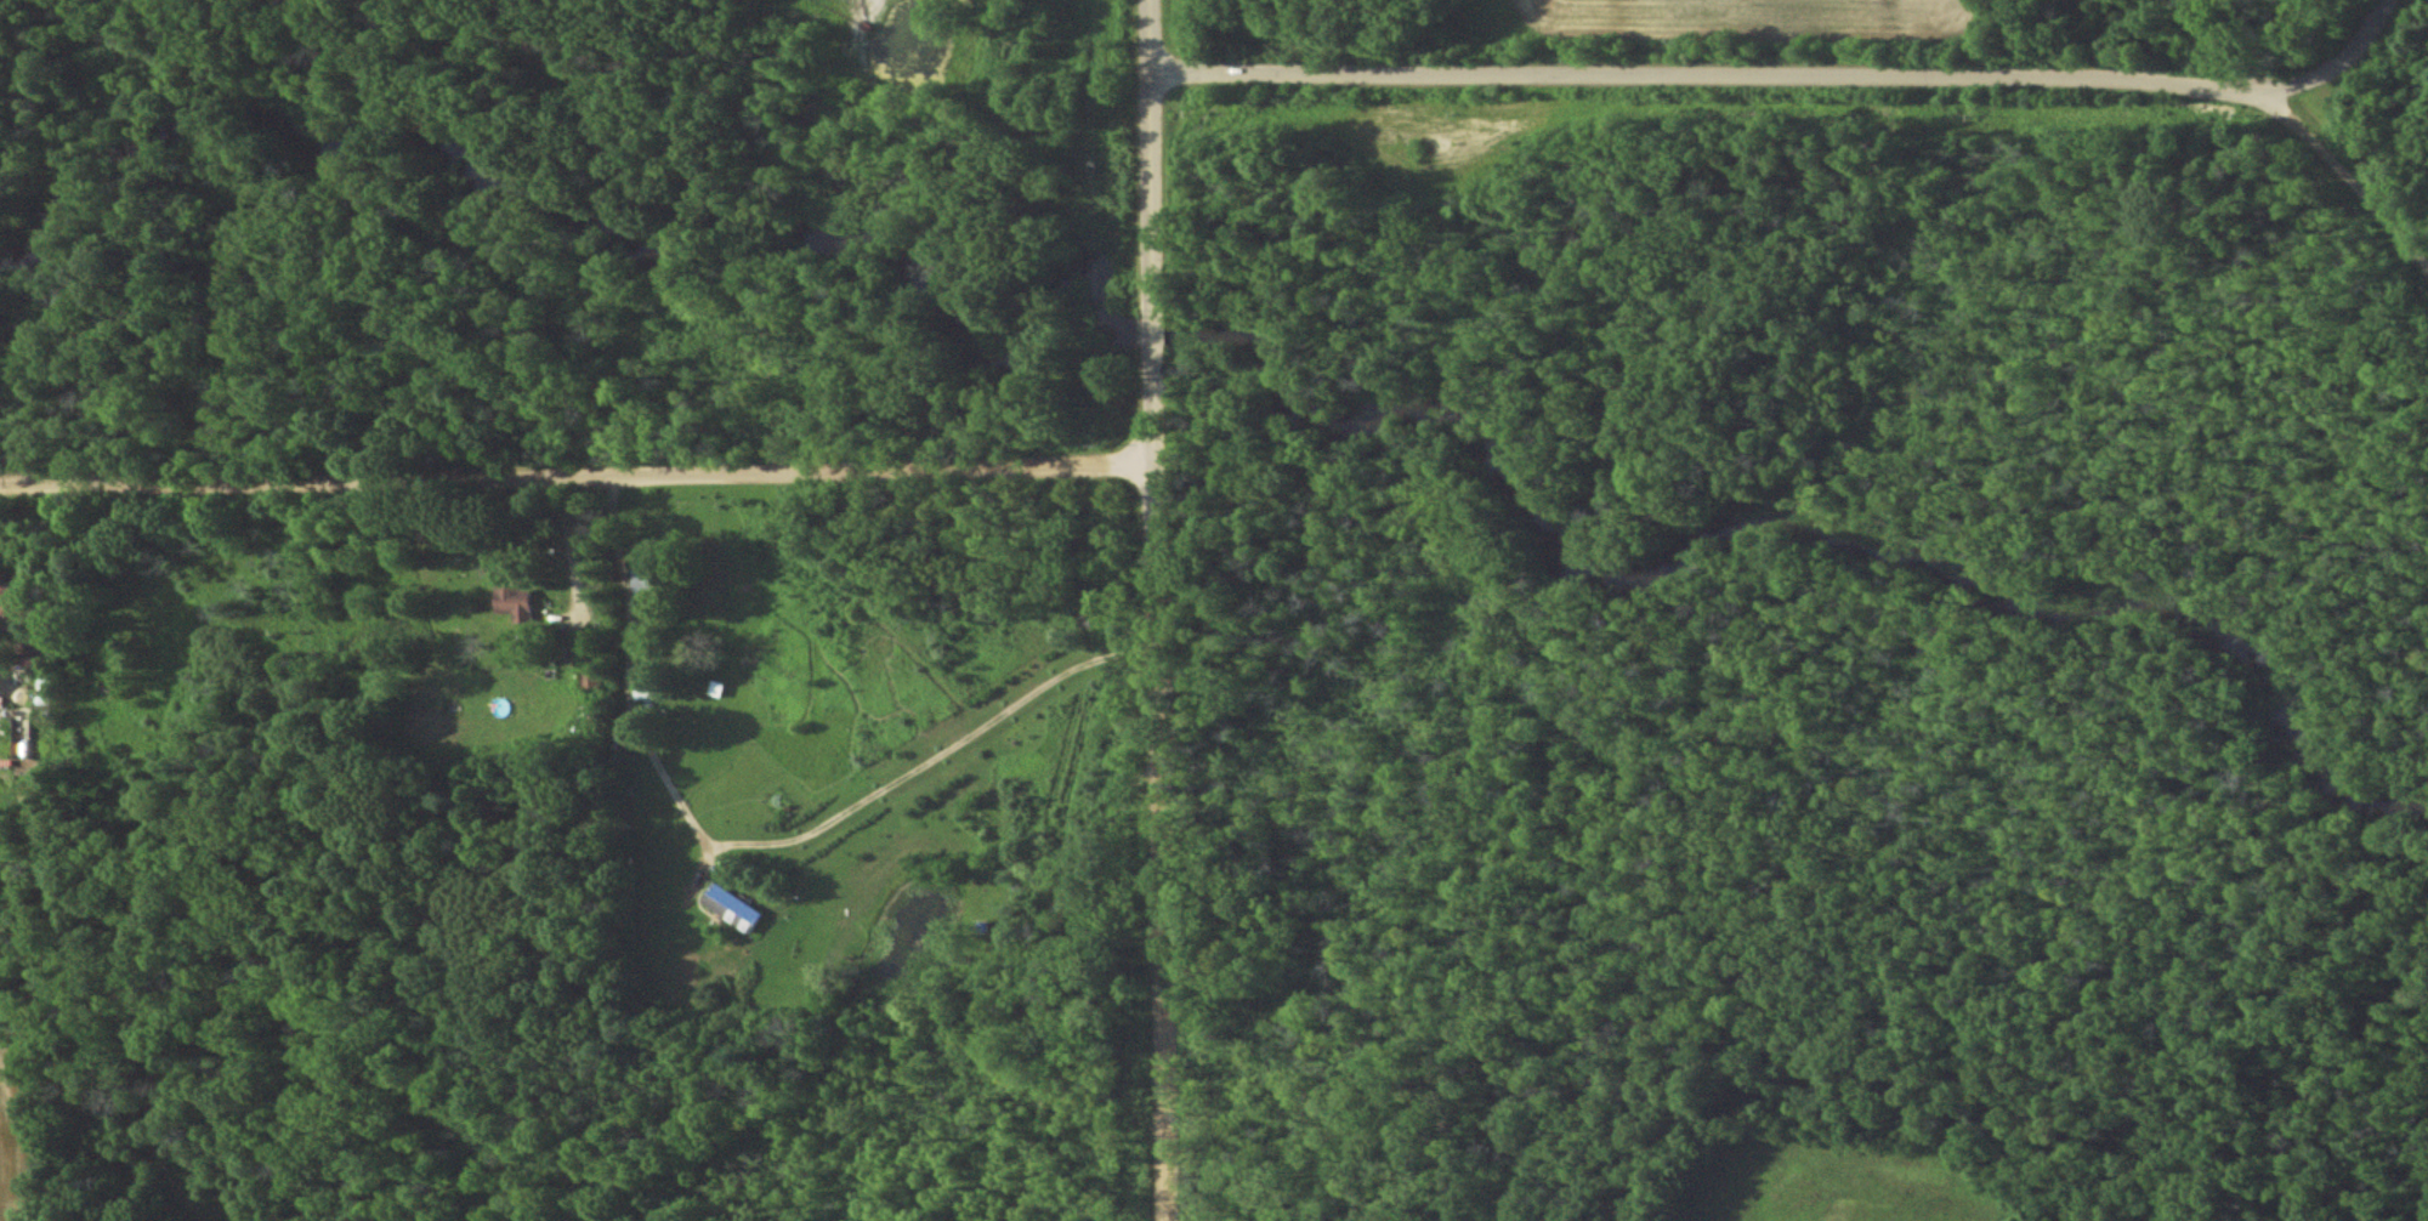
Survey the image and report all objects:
road: (1129, 64)
road: (2343, 68)
road: (1829, 74)
road: (577, 476)
road: (571, 550)
building: (648, 581)
building: (517, 602)
building: (15, 606)
road: (1155, 610)
road: (762, 837)
building: (736, 908)

